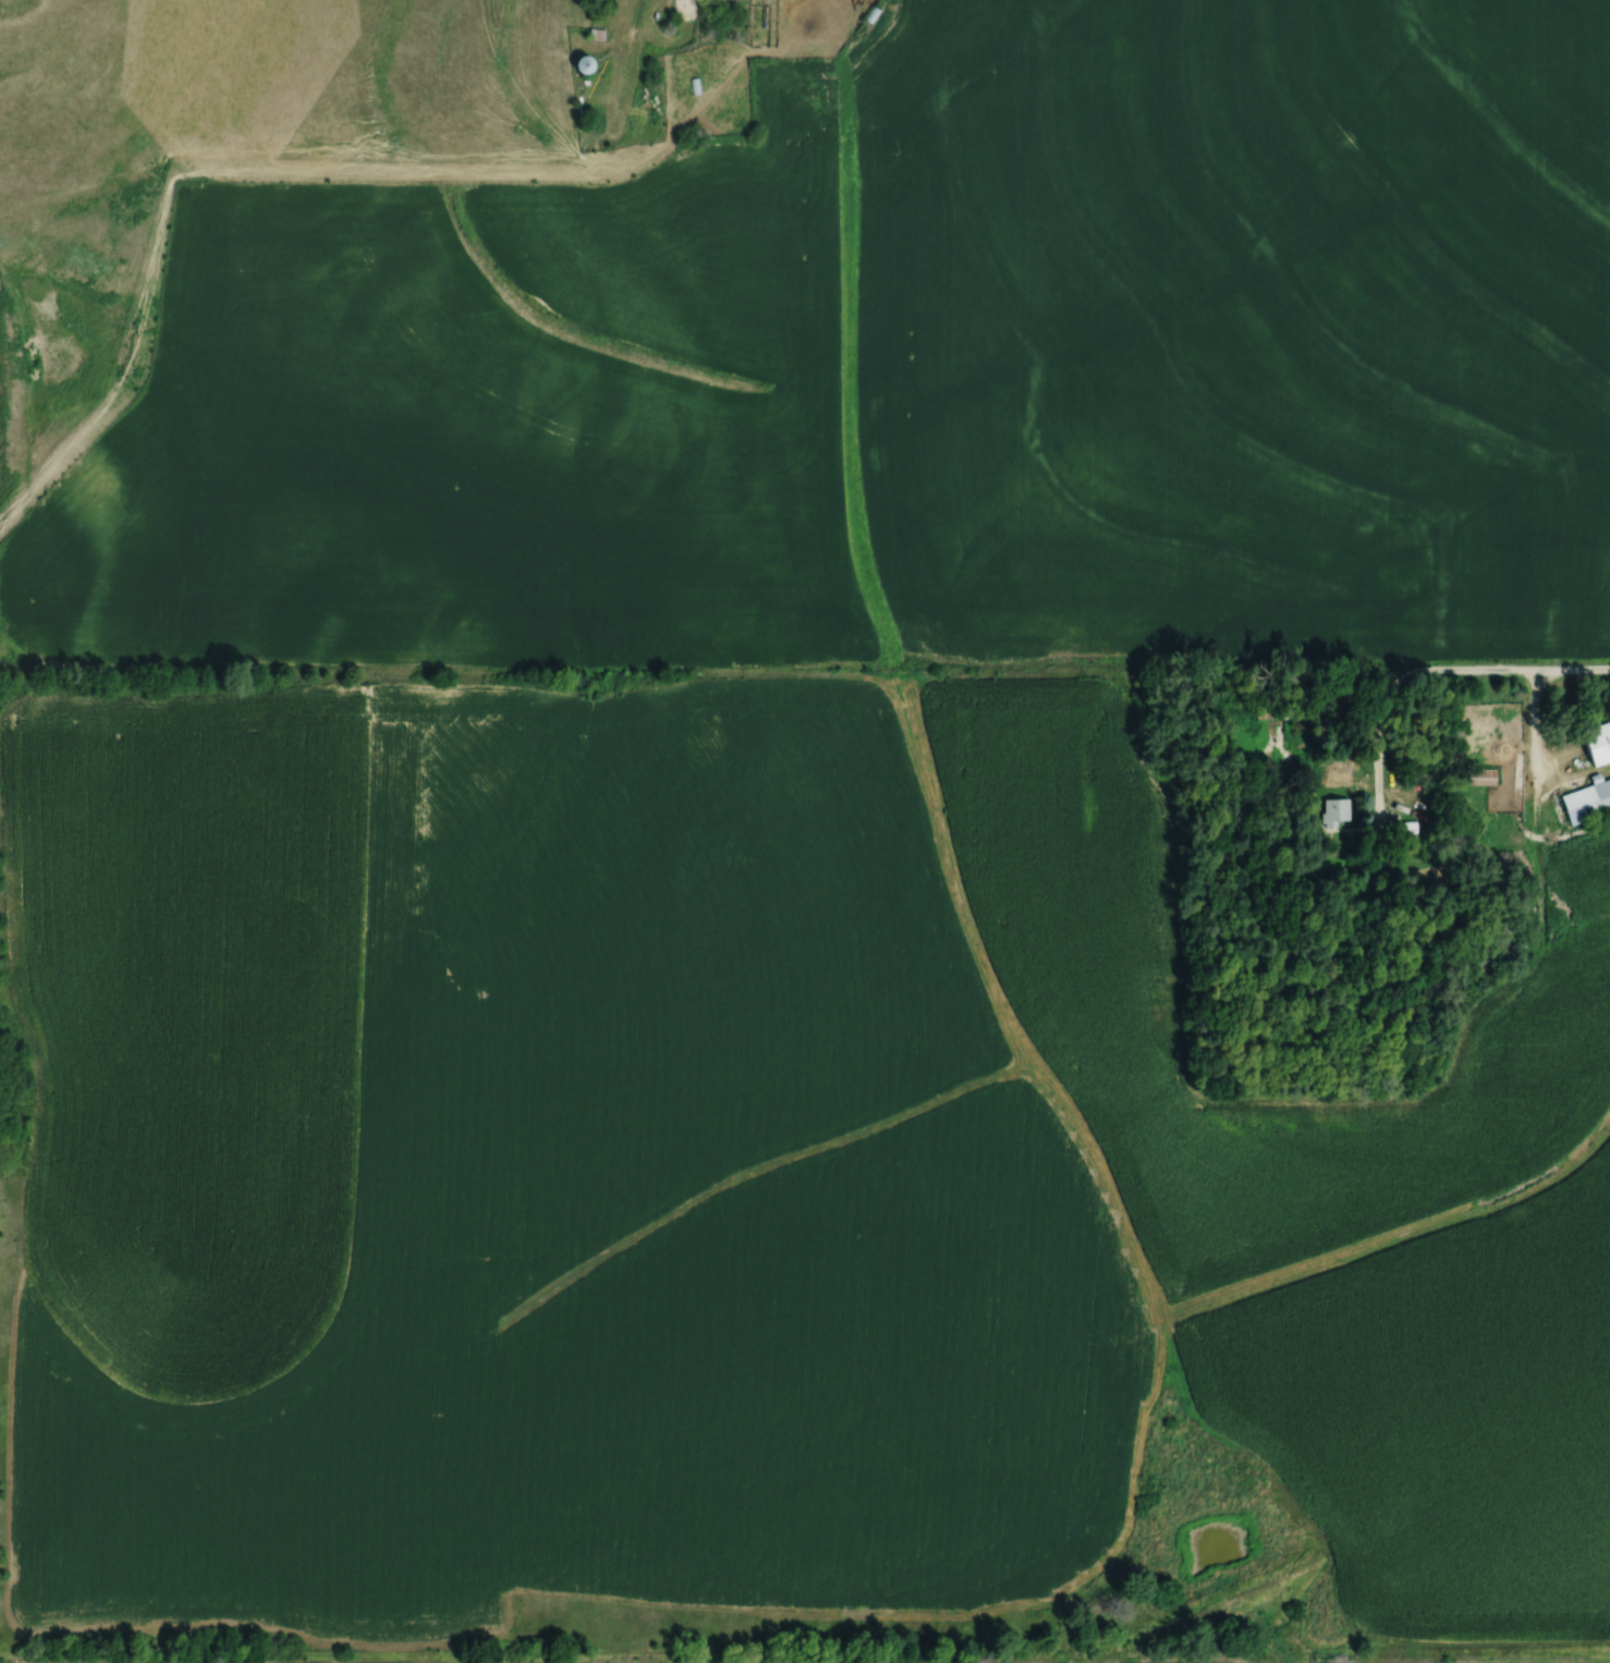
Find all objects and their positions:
building: (582, 64)
road: (1435, 675)
building: (1274, 710)
building: (1597, 743)
building: (1477, 777)
building: (1586, 798)
building: (1335, 811)
building: (1408, 829)
building: (1489, 950)

